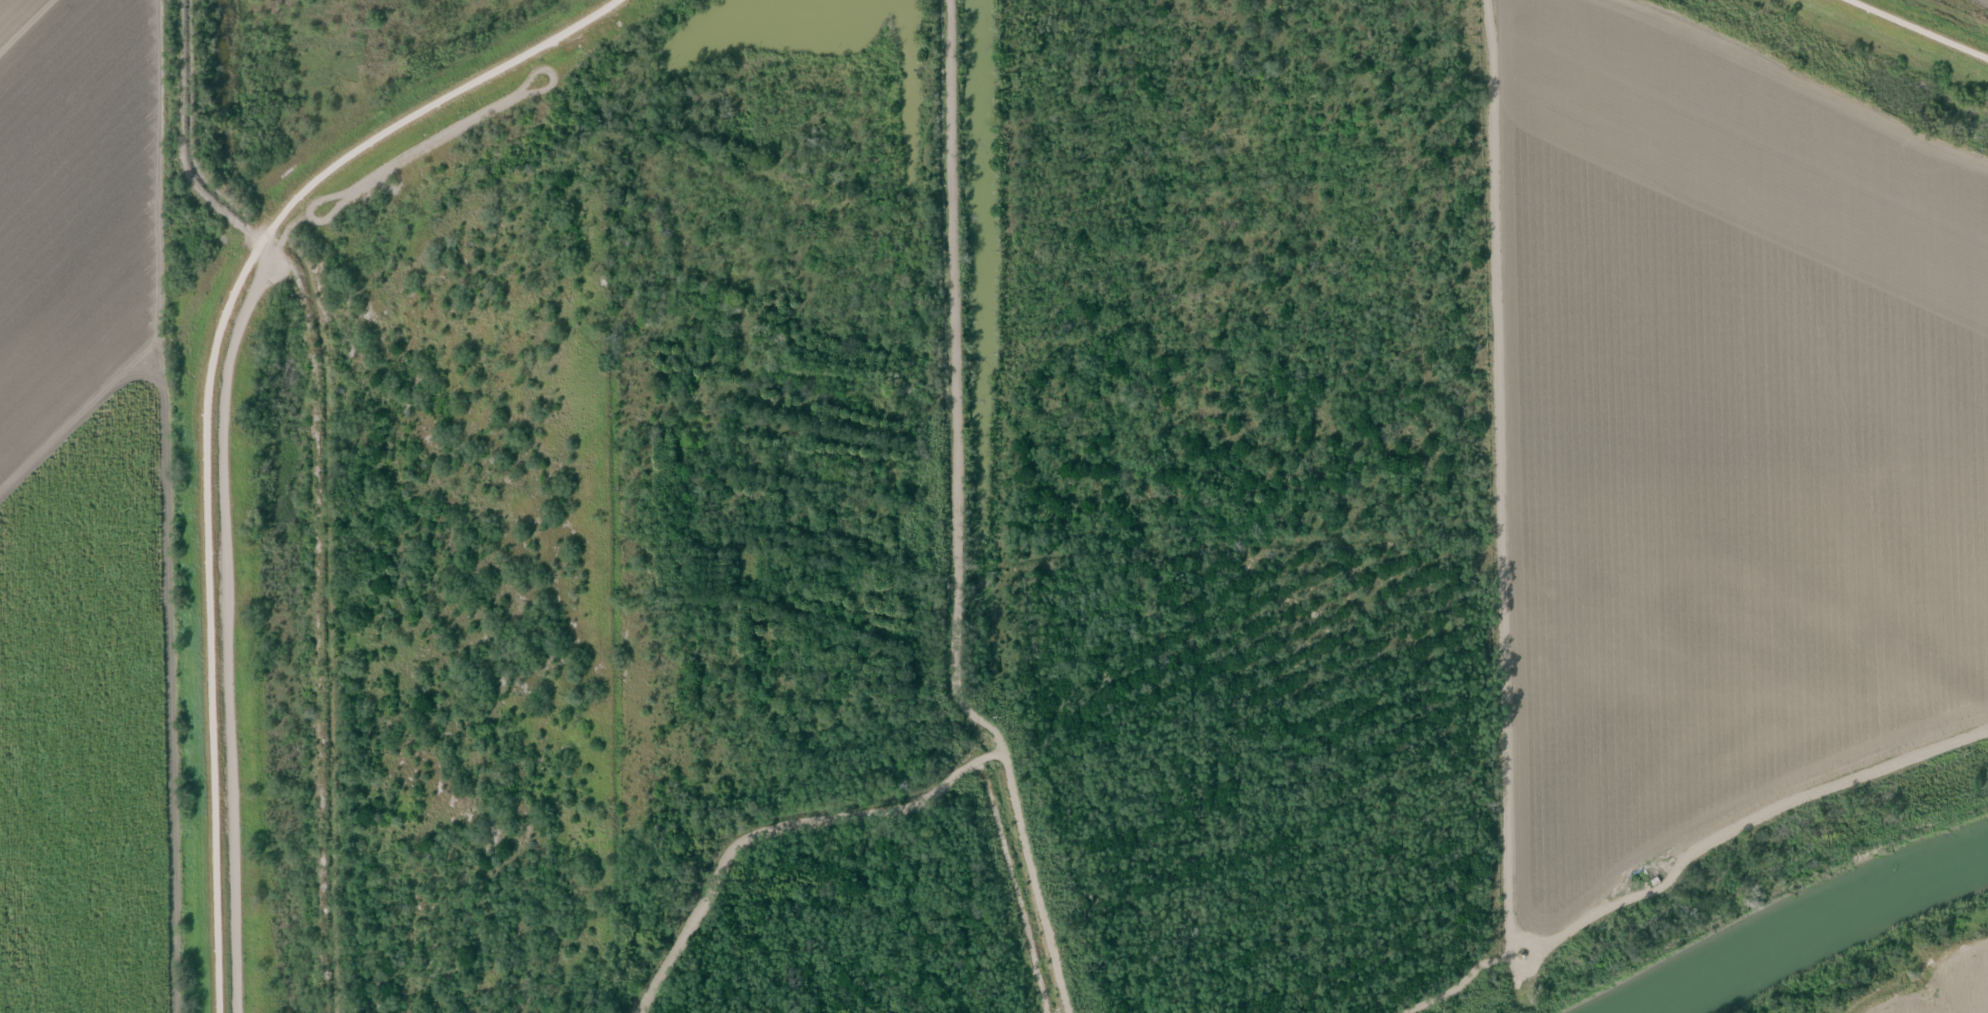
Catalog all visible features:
road: (1914, 31)
road: (205, 402)
river: (1803, 931)

